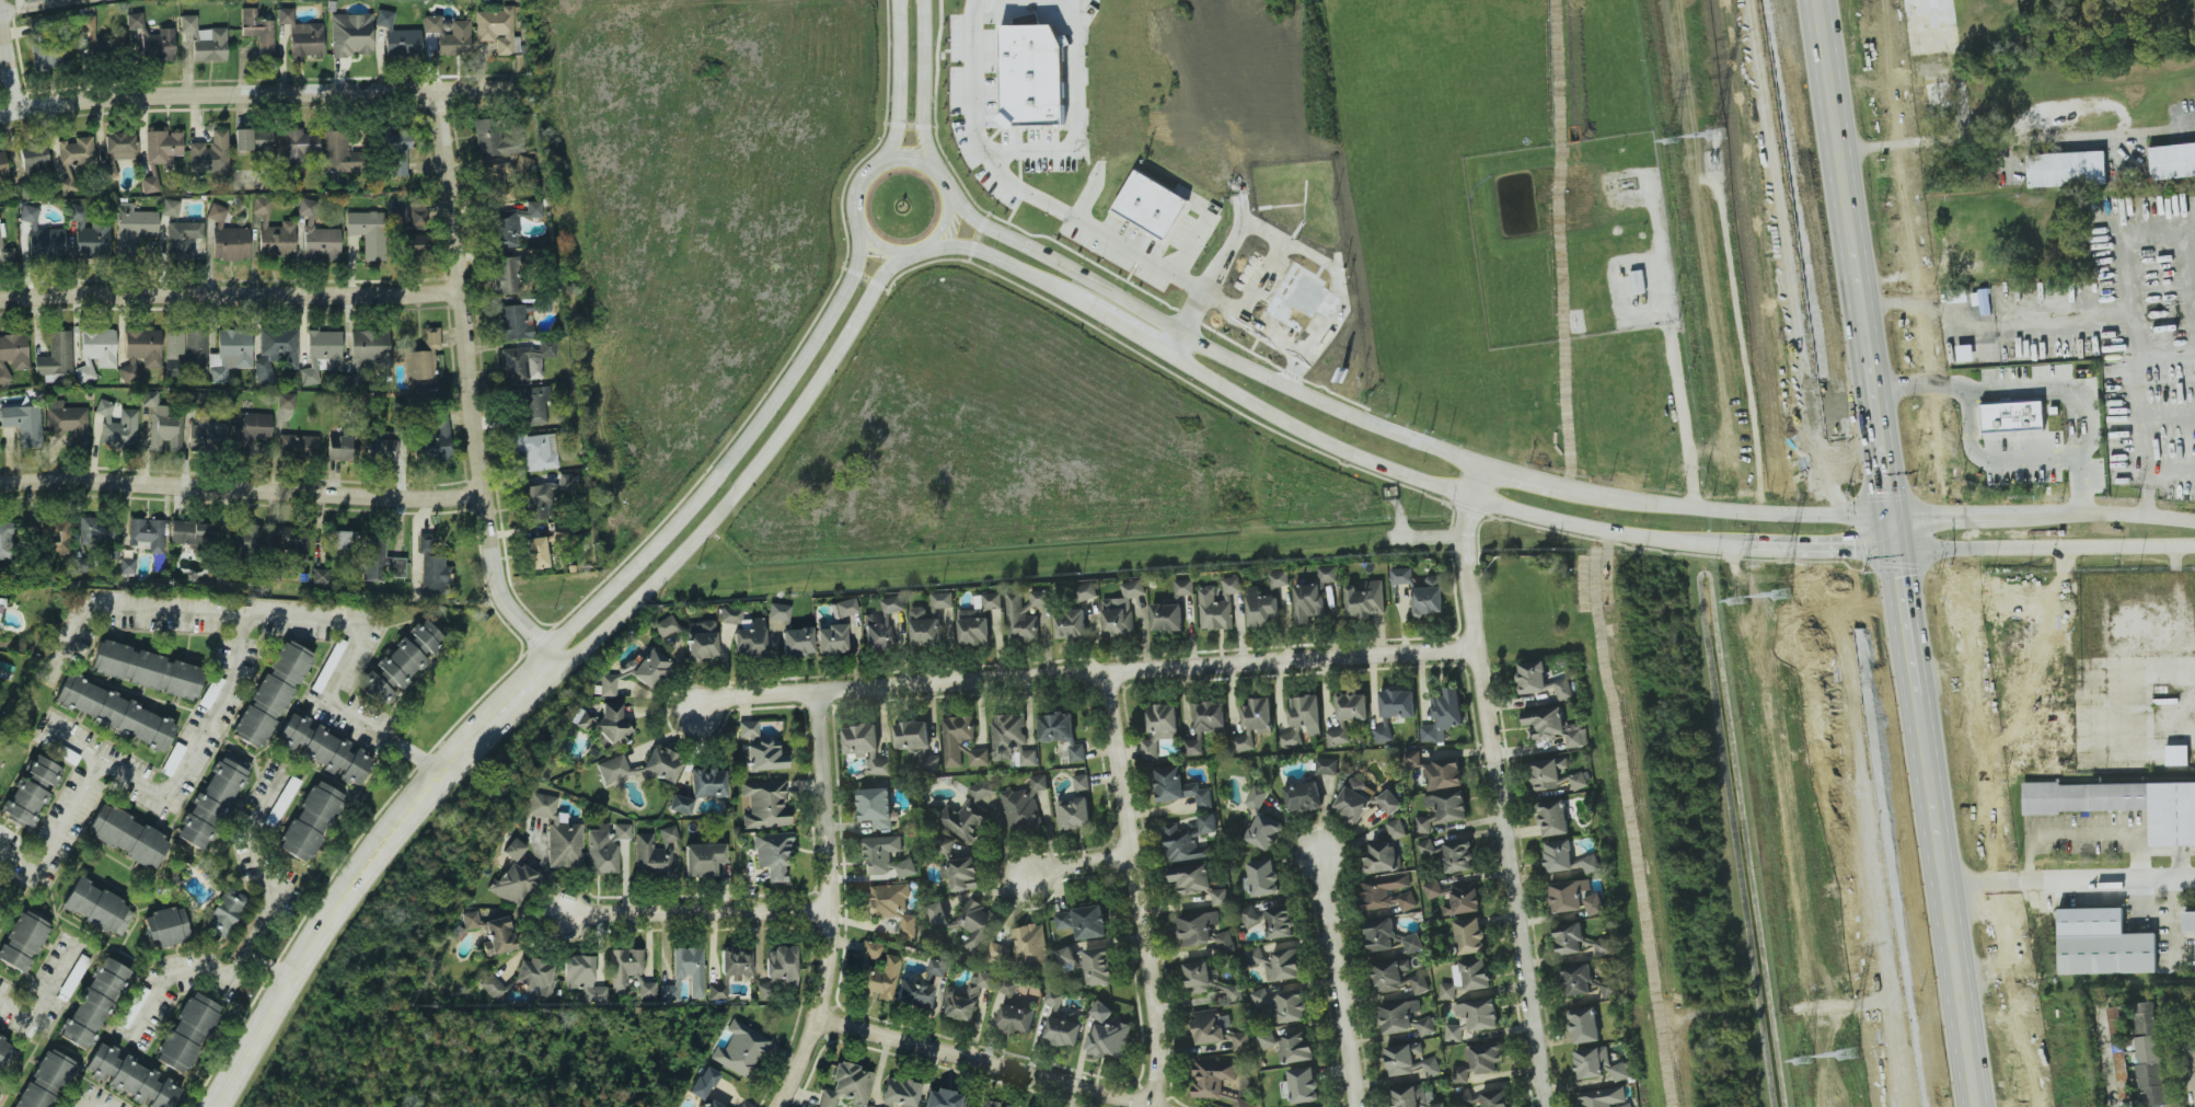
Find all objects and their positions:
road: (42, 5)
building: (495, 28)
building: (256, 30)
building: (350, 34)
building: (301, 35)
building: (397, 36)
building: (448, 36)
building: (96, 38)
building: (151, 39)
building: (204, 41)
road: (1075, 51)
building: (48, 57)
road: (7, 71)
building: (1027, 73)
road: (923, 85)
road: (897, 88)
road: (255, 89)
power tower: (1714, 135)
building: (252, 139)
building: (489, 139)
road: (2017, 139)
power tower: (1670, 141)
building: (298, 145)
building: (161, 147)
building: (342, 148)
road: (1048, 150)
building: (76, 151)
building: (116, 151)
building: (209, 152)
building: (395, 153)
building: (34, 160)
building: (2172, 161)
building: (2, 164)
building: (2067, 169)
building: (149, 184)
building: (1152, 205)
building: (170, 207)
road: (1055, 208)
building: (512, 221)
building: (132, 228)
building: (368, 232)
building: (273, 233)
building: (42, 235)
building: (317, 235)
building: (227, 237)
building: (89, 238)
building: (183, 239)
road: (1191, 246)
road: (935, 250)
building: (7, 256)
building: (507, 275)
building: (1638, 281)
road: (232, 295)
building: (1982, 301)
road: (1928, 312)
building: (513, 321)
road: (2137, 344)
road: (1204, 346)
building: (369, 347)
road: (1677, 347)
building: (185, 348)
building: (139, 350)
building: (95, 351)
building: (275, 353)
building: (1965, 353)
building: (12, 354)
building: (230, 354)
building: (322, 354)
building: (56, 355)
building: (423, 359)
building: (524, 361)
road: (2043, 385)
road: (478, 388)
building: (285, 401)
building: (532, 405)
building: (2010, 415)
building: (67, 422)
building: (23, 424)
building: (162, 425)
building: (116, 426)
building: (251, 428)
building: (206, 435)
building: (435, 437)
building: (298, 446)
road: (727, 447)
building: (342, 448)
building: (383, 450)
building: (538, 451)
road: (1995, 457)
road: (747, 472)
road: (1420, 477)
road: (1523, 477)
road: (245, 483)
building: (567, 483)
building: (539, 501)
road: (1689, 506)
traffic signals: (1953, 510)
road: (2007, 510)
traffic signals: (1819, 515)
building: (96, 530)
building: (190, 532)
building: (54, 535)
building: (244, 538)
building: (343, 540)
road: (1426, 540)
building: (5, 541)
building: (155, 545)
traffic signals: (1824, 545)
traffic signals: (1957, 545)
road: (2076, 549)
building: (547, 551)
building: (538, 552)
road: (1825, 553)
road: (1959, 553)
building: (379, 562)
building: (431, 567)
building: (1328, 574)
building: (1401, 575)
building: (320, 576)
building: (1280, 578)
building: (1232, 585)
building: (1183, 587)
building: (1085, 591)
power tower: (1779, 595)
building: (1430, 597)
building: (1041, 598)
building: (1365, 598)
power tower: (1737, 599)
building: (940, 602)
building: (1308, 602)
building: (893, 603)
building: (846, 607)
building: (1262, 608)
building: (1122, 610)
building: (1215, 610)
road: (130, 611)
building: (777, 611)
building: (0, 614)
building: (729, 614)
building: (1167, 618)
building: (978, 620)
building: (1071, 624)
building: (994, 625)
building: (666, 626)
building: (925, 627)
building: (879, 635)
building: (775, 636)
building: (831, 638)
building: (701, 639)
building: (796, 642)
building: (748, 643)
building: (402, 661)
building: (146, 669)
building: (636, 671)
road: (1085, 676)
building: (1532, 677)
building: (1562, 688)
building: (272, 694)
building: (1352, 706)
building: (1395, 711)
building: (114, 712)
building: (1306, 713)
building: (1443, 715)
building: (1210, 716)
road: (209, 720)
building: (1254, 723)
road: (500, 724)
building: (606, 724)
building: (1555, 726)
building: (1056, 727)
building: (1159, 728)
building: (1338, 736)
building: (957, 738)
building: (1291, 738)
building: (1008, 739)
road: (385, 740)
building: (1193, 745)
building: (322, 748)
building: (867, 748)
building: (759, 749)
building: (966, 752)
building: (1077, 753)
building: (2177, 754)
building: (980, 757)
building: (1029, 758)
building: (1413, 759)
building: (661, 764)
building: (1327, 765)
building: (612, 768)
building: (1444, 773)
building: (1555, 775)
building: (707, 782)
road: (1499, 785)
building: (1178, 787)
building: (31, 792)
building: (1304, 796)
building: (1257, 798)
building: (212, 799)
building: (1355, 799)
building: (281, 800)
building: (765, 802)
building: (1390, 802)
building: (680, 803)
building: (1026, 806)
building: (2124, 806)
building: (1076, 807)
building: (1444, 809)
building: (974, 814)
building: (1553, 818)
building: (310, 820)
building: (1209, 823)
building: (1264, 831)
building: (557, 833)
road: (2072, 833)
building: (128, 837)
building: (1182, 844)
building: (604, 846)
building: (512, 849)
building: (1385, 850)
road: (2160, 851)
building: (773, 853)
building: (655, 855)
building: (1449, 855)
building: (886, 856)
building: (1567, 857)
building: (702, 858)
road: (261, 860)
road: (1073, 863)
building: (961, 874)
building: (518, 878)
building: (1192, 878)
building: (1262, 878)
road: (2099, 879)
road: (1132, 890)
building: (1387, 893)
building: (1221, 897)
building: (1456, 897)
building: (1575, 897)
building: (892, 904)
road: (829, 906)
building: (97, 907)
building: (224, 913)
building: (938, 913)
road: (698, 914)
building: (470, 920)
building: (1064, 920)
building: (1271, 920)
building: (1090, 922)
building: (2190, 923)
building: (979, 925)
building: (165, 926)
building: (1199, 927)
building: (1380, 934)
building: (498, 935)
building: (1469, 935)
road: (320, 936)
building: (1570, 938)
building: (23, 941)
building: (1225, 942)
building: (1413, 943)
building: (2102, 945)
building: (1021, 948)
building: (735, 960)
road: (267, 962)
building: (1090, 962)
building: (1284, 966)
building: (625, 968)
building: (782, 968)
building: (1472, 973)
road: (178, 975)
building: (684, 975)
building: (536, 976)
building: (1398, 977)
building: (878, 979)
building: (580, 980)
building: (1579, 980)
building: (1209, 981)
road: (1341, 982)
building: (490, 985)
building: (646, 989)
building: (716, 991)
building: (1447, 991)
building: (914, 994)
building: (967, 998)
building: (1054, 998)
building: (1261, 998)
road: (42, 999)
building: (93, 1004)
building: (1292, 1006)
building: (1017, 1007)
building: (1479, 1014)
building: (1398, 1016)
building: (1584, 1025)
building: (1426, 1026)
building: (1212, 1027)
building: (1064, 1029)
building: (1455, 1031)
building: (187, 1033)
building: (1108, 1034)
building: (1241, 1040)
building: (1294, 1048)
road: (2192, 1049)
building: (741, 1050)
building: (5, 1052)
power tower: (1847, 1054)
road: (2105, 1059)
building: (1410, 1060)
building: (1479, 1060)
power tower: (1802, 1060)
road: (974, 1063)
building: (1598, 1064)
building: (51, 1071)
building: (130, 1076)
building: (703, 1082)
building: (1220, 1082)
building: (1304, 1085)
building: (846, 1086)
building: (900, 1092)
building: (33, 1097)
building: (1416, 1097)
building: (1606, 1097)
building: (1494, 1098)
building: (943, 1099)
building: (709, 1103)
building: (989, 1103)
building: (11, 1106)

